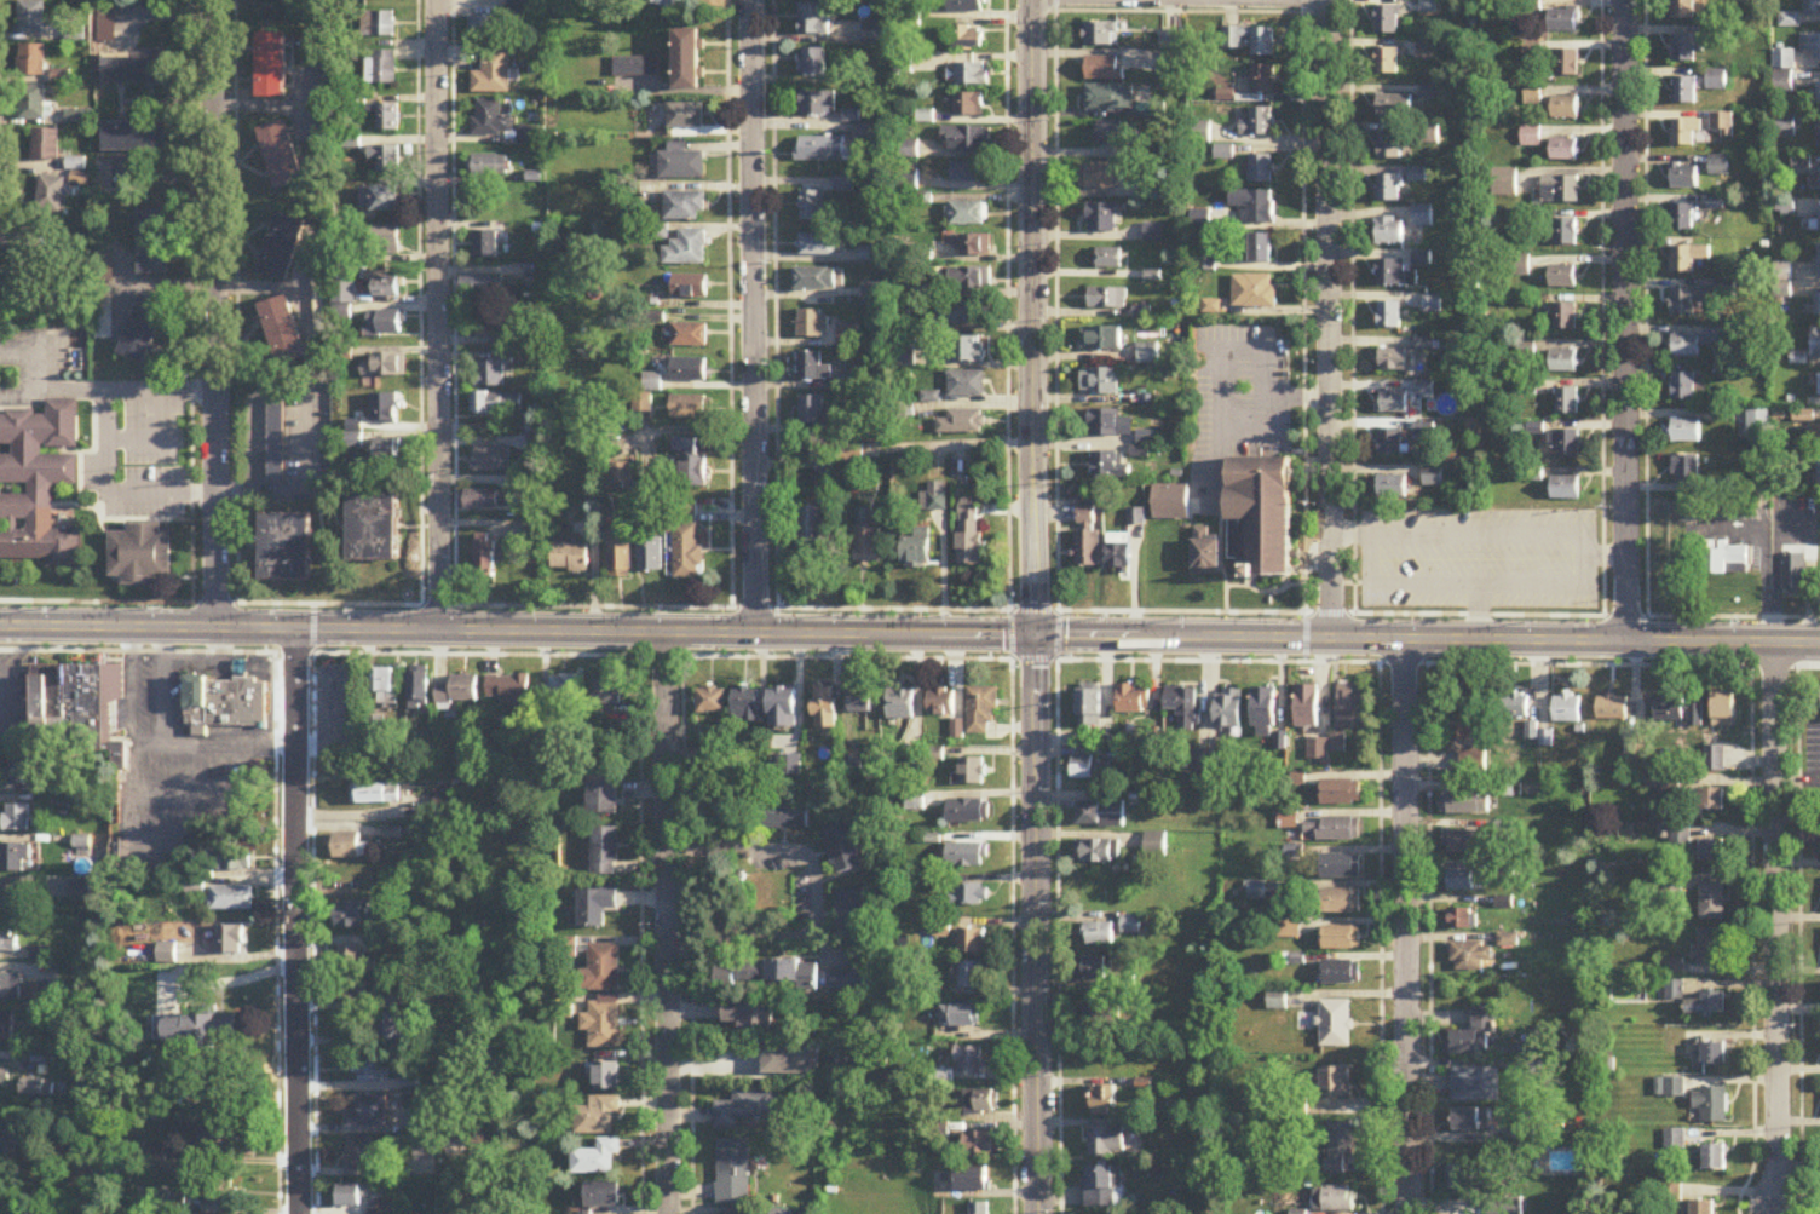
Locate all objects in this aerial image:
building: (152, 0)
building: (271, 0)
building: (384, 0)
building: (670, 4)
building: (963, 7)
building: (1812, 8)
road: (1183, 10)
building: (1682, 10)
building: (33, 19)
building: (817, 21)
building: (1561, 21)
building: (1387, 23)
building: (379, 25)
building: (484, 29)
building: (876, 34)
building: (1101, 35)
building: (968, 39)
building: (1250, 42)
building: (1810, 47)
building: (1687, 50)
building: (1173, 58)
building: (33, 62)
building: (687, 62)
building: (812, 63)
building: (1387, 63)
building: (1566, 64)
building: (271, 67)
building: (381, 68)
building: (136, 70)
building: (1104, 70)
building: (637, 73)
building: (493, 75)
building: (972, 75)
building: (1262, 81)
building: (1716, 81)
building: (1683, 91)
building: (1818, 94)
building: (1110, 99)
building: (33, 104)
building: (818, 104)
building: (968, 105)
building: (1394, 108)
building: (1565, 109)
building: (686, 117)
building: (82, 119)
building: (388, 119)
building: (491, 120)
building: (1257, 123)
building: (1721, 126)
building: (1782, 127)
building: (1684, 133)
building: (1111, 134)
building: (1818, 136)
building: (136, 138)
building: (967, 139)
building: (45, 146)
building: (1389, 148)
building: (820, 150)
building: (1563, 151)
building: (1223, 154)
building: (281, 157)
building: (386, 157)
road: (15, 165)
building: (682, 166)
building: (1720, 166)
building: (488, 167)
building: (1261, 171)
building: (967, 173)
building: (111, 177)
building: (1101, 177)
building: (1683, 177)
building: (1814, 183)
building: (1388, 190)
building: (1560, 191)
building: (51, 195)
building: (380, 201)
building: (685, 207)
building: (812, 207)
building: (1254, 207)
building: (967, 214)
building: (1102, 218)
building: (1422, 218)
building: (1683, 218)
building: (1200, 220)
building: (1389, 231)
building: (1565, 234)
building: (385, 241)
building: (154, 243)
building: (485, 246)
building: (818, 246)
building: (972, 246)
building: (19, 248)
building: (282, 248)
building: (687, 249)
building: (1261, 249)
building: (1108, 259)
building: (1687, 259)
building: (1819, 261)
building: (104, 267)
building: (1392, 274)
building: (1562, 277)
building: (971, 278)
building: (816, 281)
building: (690, 288)
building: (388, 289)
building: (483, 289)
building: (1254, 293)
building: (1107, 299)
road: (190, 300)
road: (235, 300)
road: (419, 301)
road: (454, 301)
building: (1688, 303)
road: (1350, 305)
building: (1818, 306)
road: (213, 312)
building: (1389, 312)
road: (436, 313)
building: (963, 313)
road: (753, 315)
road: (1031, 316)
road: (1329, 317)
building: (1563, 318)
road: (1623, 320)
building: (382, 323)
building: (490, 326)
building: (812, 326)
road: (730, 328)
road: (774, 328)
road: (1055, 328)
building: (143, 329)
road: (1007, 329)
road: (1601, 332)
road: (1645, 332)
building: (281, 333)
building: (848, 335)
road: (1302, 335)
building: (690, 336)
building: (1102, 340)
building: (1815, 344)
road: (1240, 349)
building: (1684, 349)
building: (964, 351)
building: (1394, 361)
building: (1563, 363)
building: (386, 367)
building: (812, 369)
building: (690, 370)
building: (489, 372)
building: (1819, 378)
building: (1100, 384)
building: (967, 385)
building: (1683, 389)
road: (90, 390)
building: (1394, 402)
building: (1566, 403)
building: (495, 405)
building: (690, 409)
building: (384, 410)
building: (148, 415)
building: (814, 416)
building: (963, 425)
building: (1111, 426)
building: (1758, 426)
building: (1684, 433)
building: (1818, 439)
building: (275, 441)
building: (1389, 444)
building: (1563, 447)
building: (853, 454)
building: (386, 456)
building: (491, 461)
building: (1108, 466)
building: (691, 467)
building: (1686, 471)
building: (1819, 477)
building: (38, 487)
building: (1392, 488)
building: (1565, 490)
road: (109, 493)
building: (938, 499)
building: (485, 501)
building: (1169, 504)
building: (1085, 517)
building: (1136, 518)
building: (1260, 518)
building: (811, 529)
building: (373, 530)
road: (1369, 530)
road: (1348, 533)
building: (969, 536)
building: (868, 541)
building: (687, 543)
building: (286, 550)
building: (917, 551)
building: (1087, 551)
road: (1603, 554)
building: (140, 556)
building: (621, 556)
building: (1118, 556)
building: (651, 557)
parking lot: (1478, 557)
building: (1205, 558)
building: (570, 559)
building: (483, 562)
building: (1726, 562)
road: (1763, 570)
building: (1793, 576)
road: (1336, 581)
road: (910, 608)
road: (910, 632)
traffic signals: (1033, 633)
road: (910, 657)
road: (134, 684)
road: (161, 684)
building: (387, 685)
building: (508, 686)
building: (419, 690)
building: (457, 690)
building: (559, 692)
building: (606, 692)
building: (862, 700)
building: (1133, 700)
building: (712, 701)
building: (900, 701)
building: (224, 702)
building: (940, 702)
building: (1348, 703)
building: (747, 704)
building: (1304, 704)
building: (1182, 706)
building: (1262, 706)
building: (1515, 706)
building: (827, 707)
building: (1613, 707)
building: (93, 708)
building: (783, 708)
building: (1089, 708)
building: (1228, 708)
building: (981, 709)
building: (1567, 709)
building: (1724, 709)
building: (1681, 714)
building: (1459, 732)
road: (215, 743)
building: (1319, 747)
building: (1636, 750)
building: (1714, 759)
building: (1473, 763)
building: (852, 765)
building: (909, 767)
building: (1090, 770)
building: (21, 772)
building: (971, 772)
road: (1797, 781)
building: (1660, 783)
building: (603, 792)
building: (1340, 792)
road: (180, 794)
building: (376, 794)
building: (726, 799)
building: (1475, 800)
building: (915, 802)
building: (1706, 802)
building: (968, 811)
building: (1101, 813)
building: (784, 815)
building: (16, 818)
building: (1288, 821)
building: (1334, 829)
building: (393, 833)
building: (1678, 836)
building: (1462, 841)
road: (134, 844)
building: (350, 847)
building: (842, 847)
road: (774, 851)
building: (1712, 851)
building: (605, 852)
building: (1096, 852)
building: (231, 856)
building: (967, 856)
building: (15, 858)
building: (1340, 865)
building: (1463, 880)
building: (971, 894)
building: (231, 899)
building: (16, 901)
building: (1340, 901)
building: (1711, 903)
building: (597, 907)
building: (353, 916)
building: (851, 916)
building: (1458, 919)
road: (296, 920)
road: (1774, 920)
road: (669, 922)
road: (1036, 924)
building: (1131, 926)
road: (1405, 926)
building: (1099, 936)
building: (1341, 938)
building: (7, 939)
building: (230, 940)
building: (972, 942)
building: (1710, 949)
building: (1469, 956)
building: (351, 960)
building: (1094, 968)
building: (603, 970)
building: (778, 972)
building: (1341, 972)
building: (853, 977)
building: (968, 977)
building: (10, 988)
building: (1706, 1005)
building: (960, 1017)
building: (748, 1018)
building: (1100, 1022)
building: (604, 1023)
building: (1335, 1024)
building: (391, 1028)
building: (6, 1029)
building: (1474, 1034)
building: (1712, 1053)
building: (789, 1060)
building: (971, 1060)
building: (373, 1070)
building: (606, 1076)
building: (5, 1078)
building: (1336, 1083)
building: (1475, 1084)
building: (39, 1088)
building: (1104, 1101)
building: (981, 1103)
building: (1711, 1105)
building: (748, 1107)
building: (369, 1114)
building: (599, 1117)
building: (1474, 1120)
building: (220, 1140)
building: (1672, 1140)
building: (1106, 1141)
building: (981, 1145)
building: (1337, 1146)
building: (359, 1155)
building: (4, 1156)
building: (1714, 1157)
building: (599, 1158)
building: (733, 1172)
building: (972, 1179)
building: (1470, 1180)
building: (1102, 1187)
building: (221, 1192)
building: (603, 1195)
building: (350, 1196)
building: (1337, 1199)
building: (1503, 1207)
building: (387, 1208)
building: (979, 1208)
building: (6, 1209)

